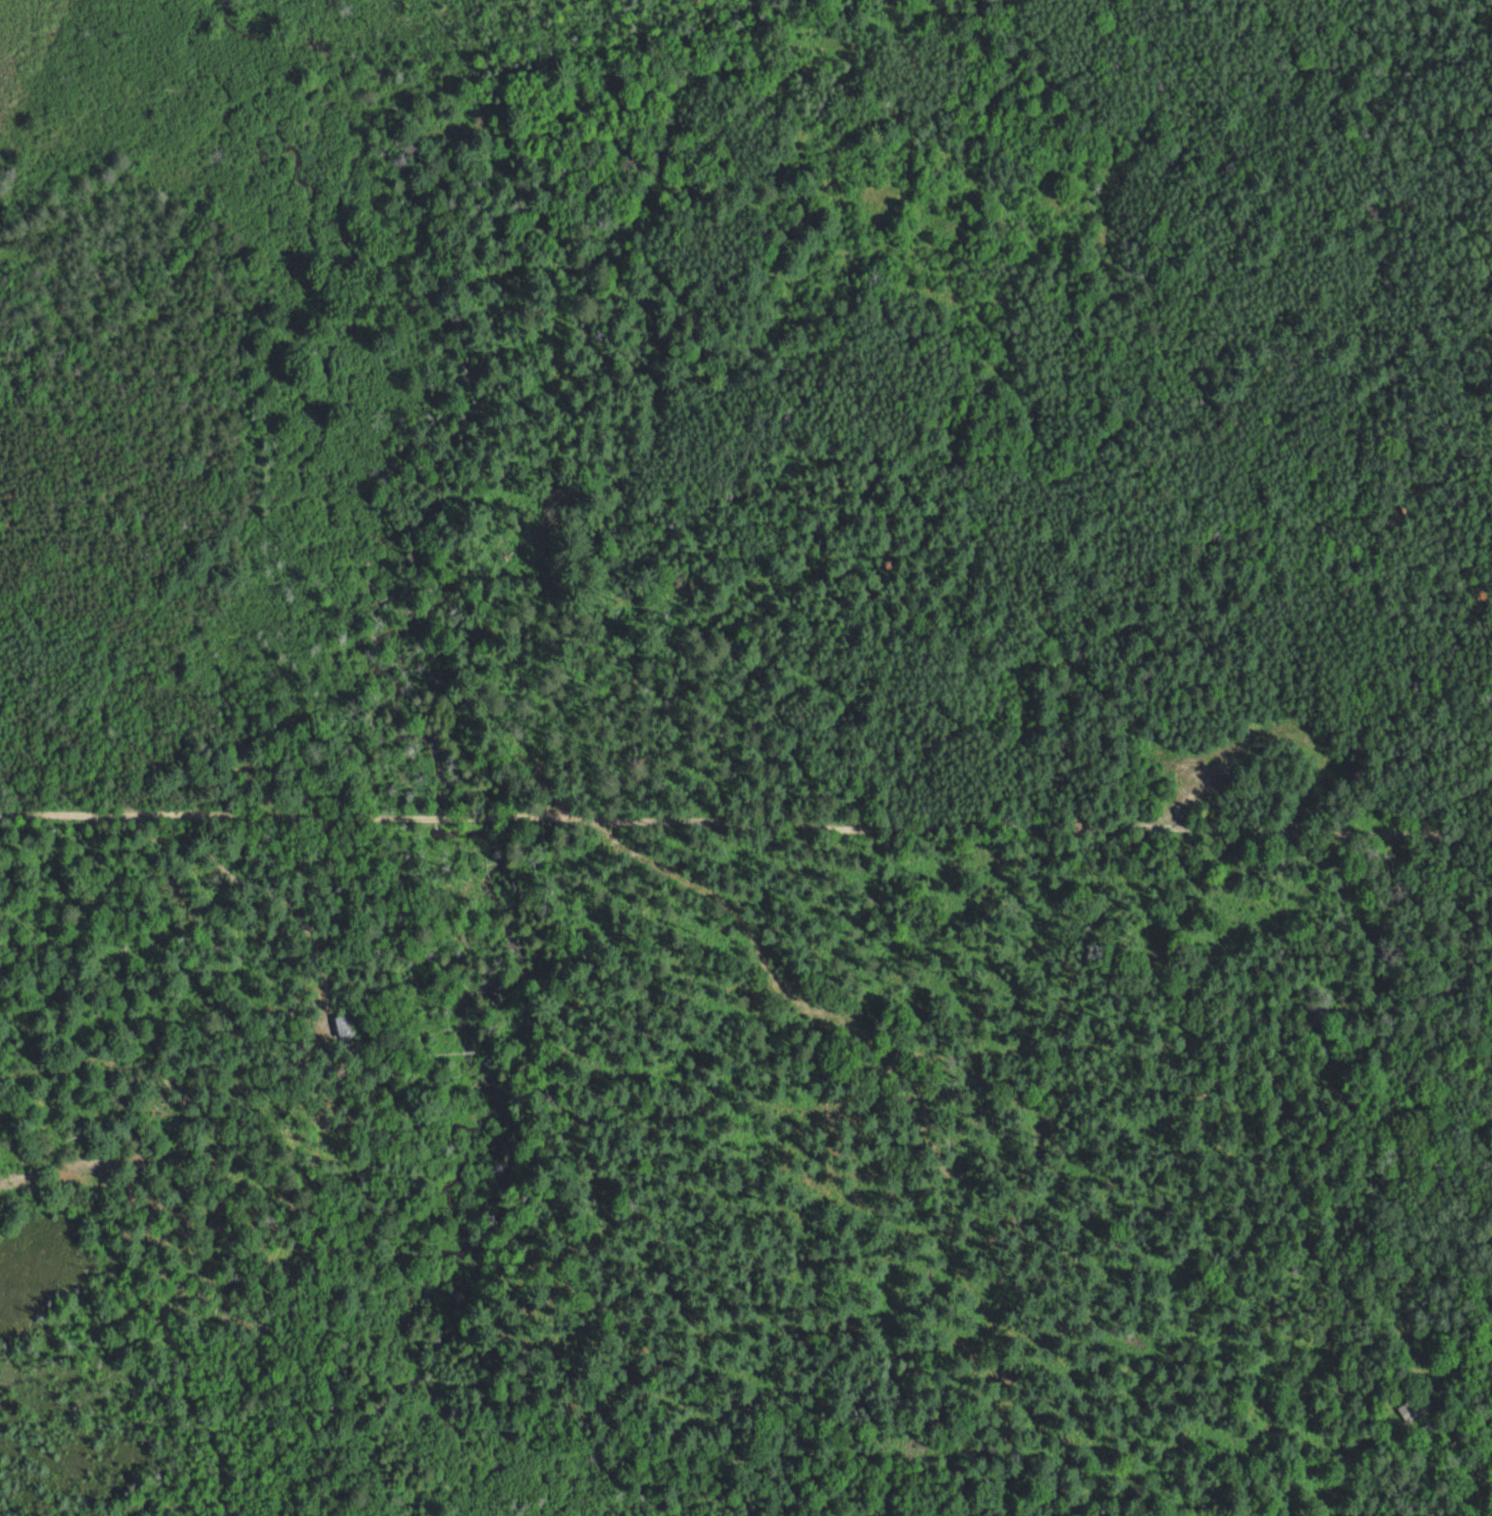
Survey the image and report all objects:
road: (752, 821)
road: (1446, 832)
road: (1403, 1181)

